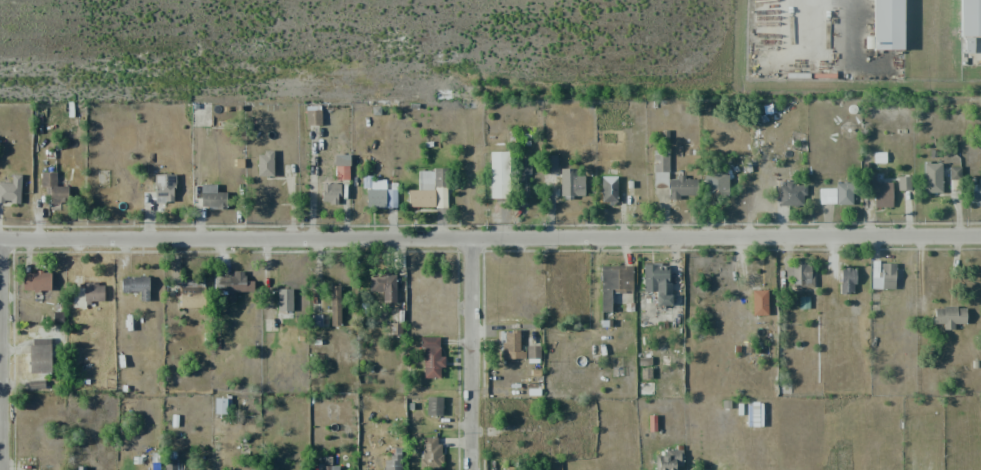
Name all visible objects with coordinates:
building: (974, 20)
building: (892, 24)
building: (313, 117)
building: (265, 164)
building: (550, 164)
building: (343, 172)
building: (499, 175)
building: (671, 177)
building: (932, 178)
building: (954, 180)
building: (901, 183)
building: (571, 184)
building: (715, 186)
building: (54, 188)
building: (164, 188)
building: (609, 189)
building: (11, 190)
building: (429, 190)
building: (879, 191)
building: (976, 191)
building: (330, 193)
building: (844, 193)
building: (792, 195)
building: (827, 196)
building: (213, 198)
building: (381, 198)
road: (490, 236)
building: (801, 274)
building: (888, 277)
building: (36, 281)
building: (847, 281)
building: (657, 282)
building: (614, 283)
building: (232, 285)
building: (136, 286)
building: (384, 286)
building: (88, 294)
building: (192, 296)
building: (284, 299)
building: (759, 302)
building: (335, 305)
building: (949, 316)
building: (512, 346)
building: (533, 352)
road: (470, 353)
building: (40, 355)
building: (431, 357)
building: (36, 384)
building: (222, 405)
building: (434, 406)
building: (756, 414)
building: (430, 453)
building: (394, 459)
building: (669, 460)
building: (170, 464)
building: (329, 467)

